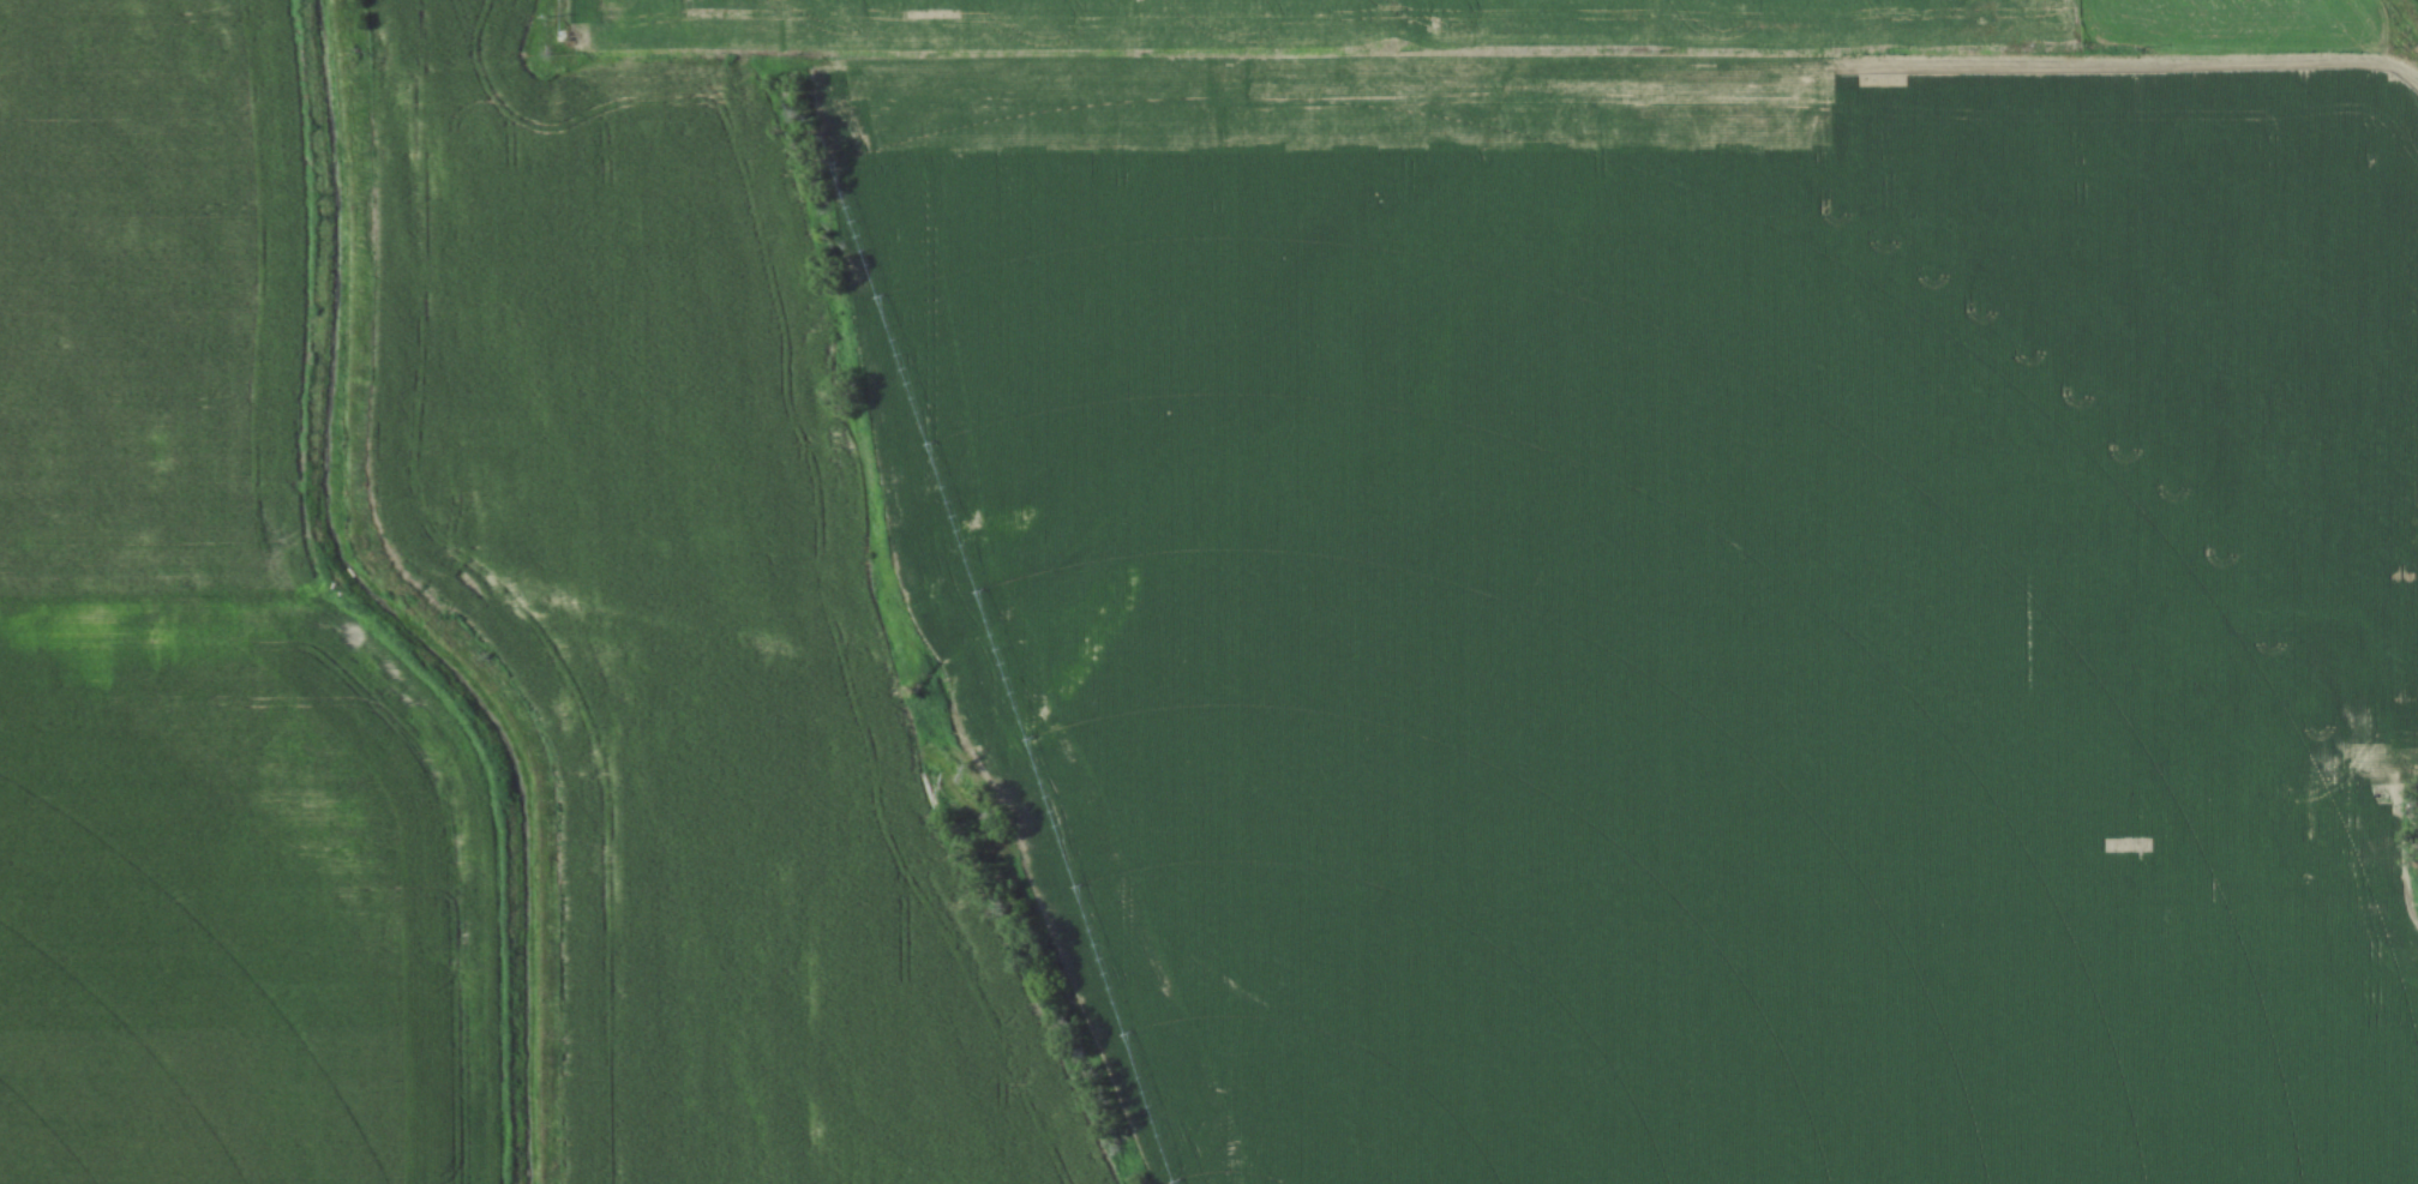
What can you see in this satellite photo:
building: (2316, 641)
building: (2339, 697)
building: (564, 1183)

